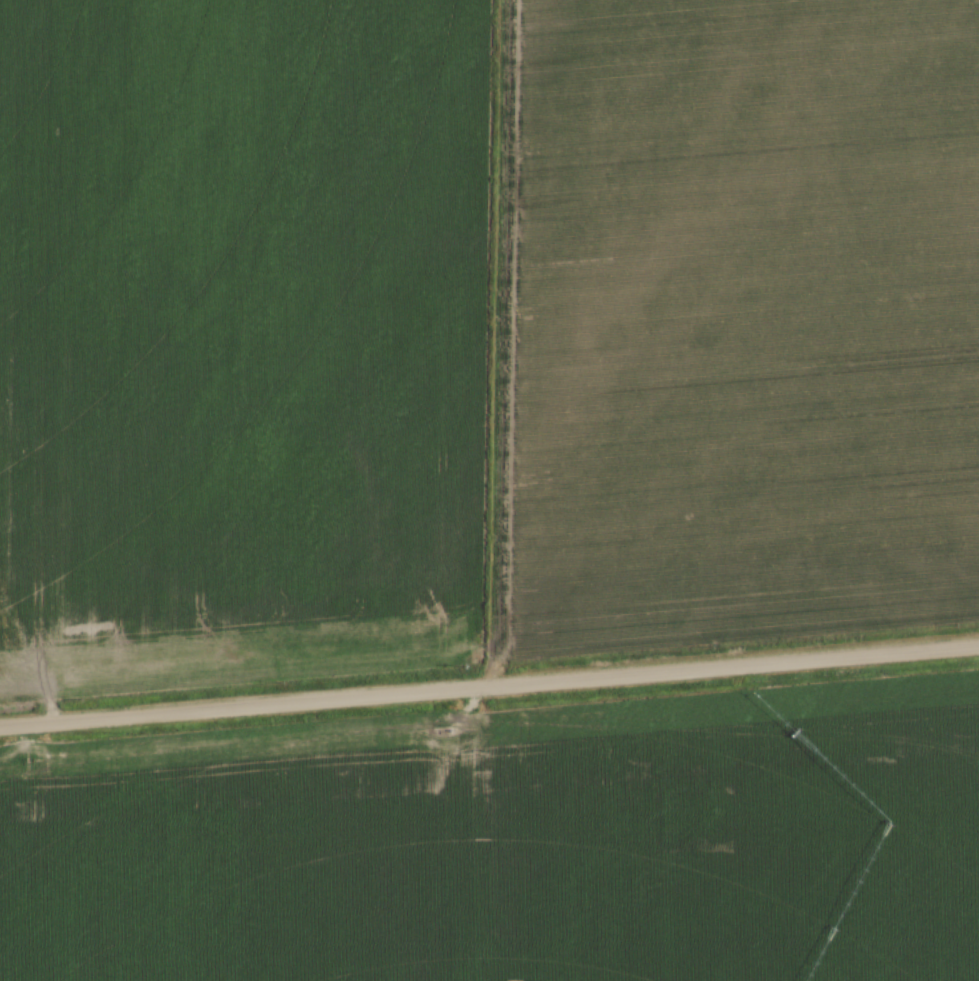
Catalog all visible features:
crop: (480, 328)
road: (489, 689)
crop: (512, 842)

